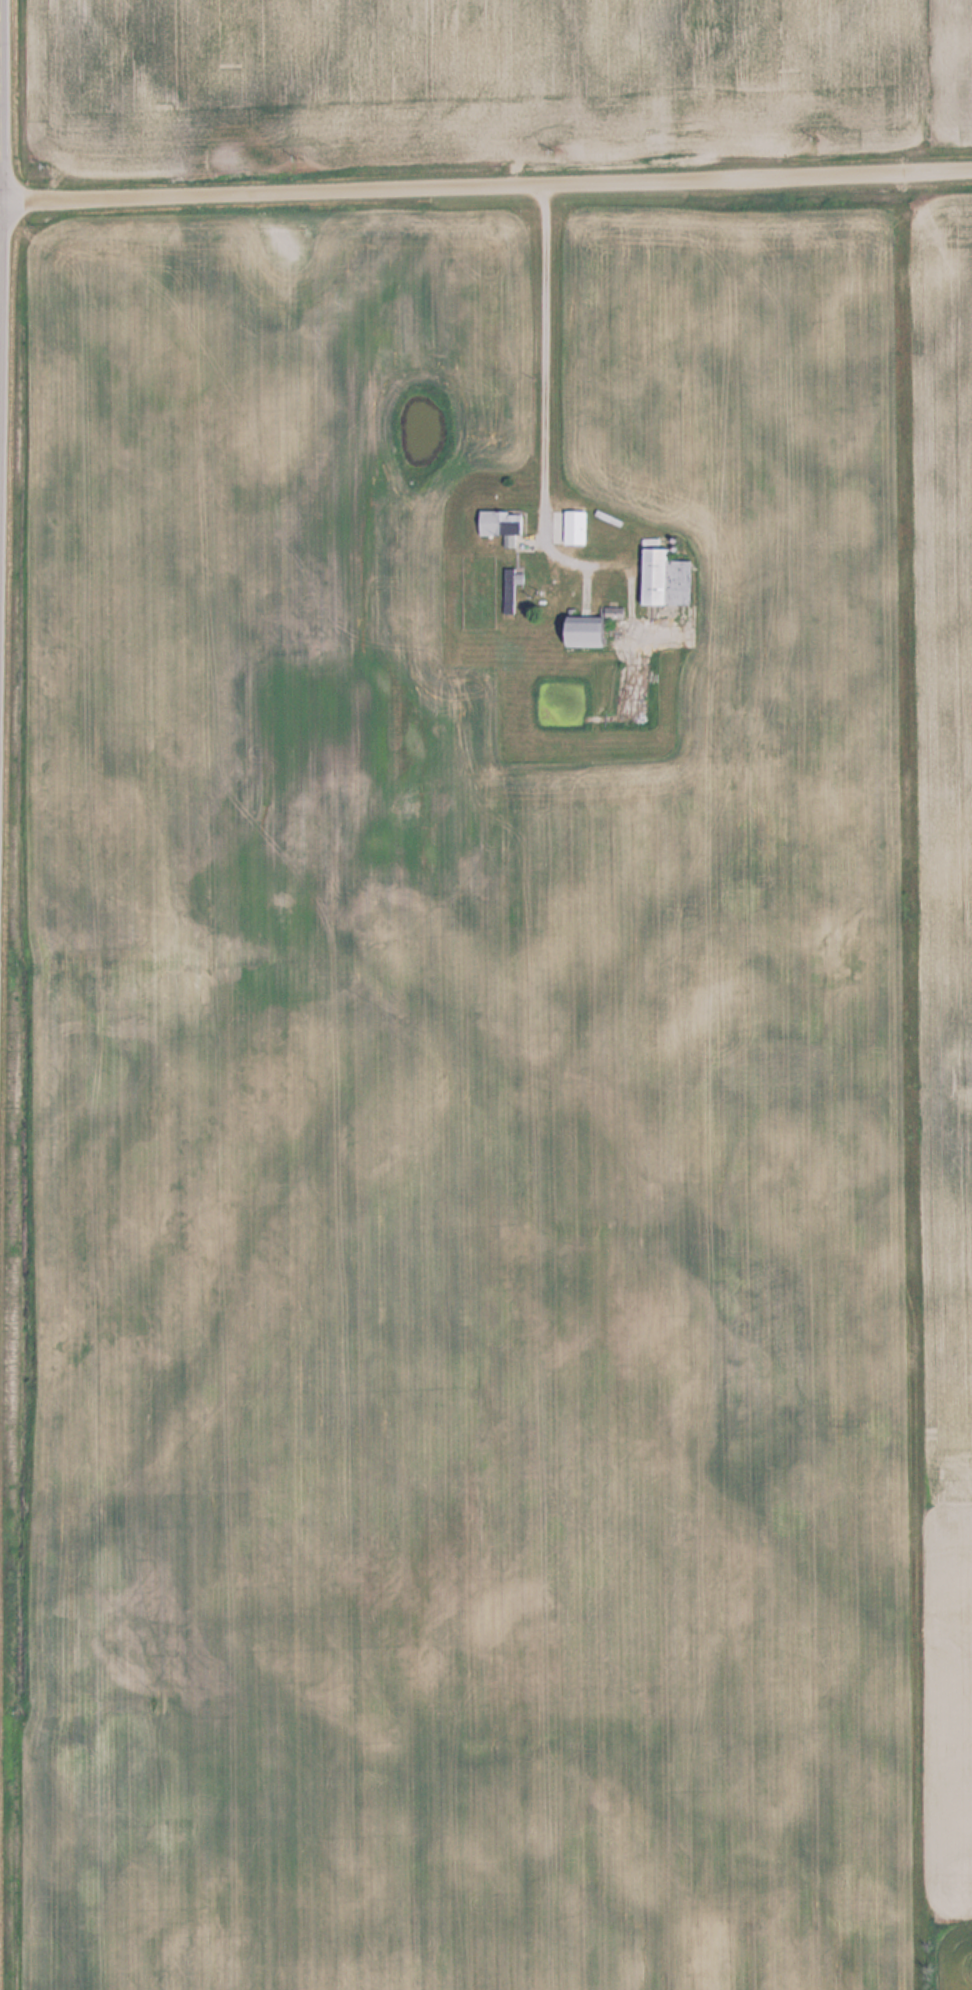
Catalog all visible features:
road: (485, 185)
road: (541, 373)
building: (501, 525)
building: (575, 527)
building: (662, 577)
building: (512, 588)
building: (577, 631)

